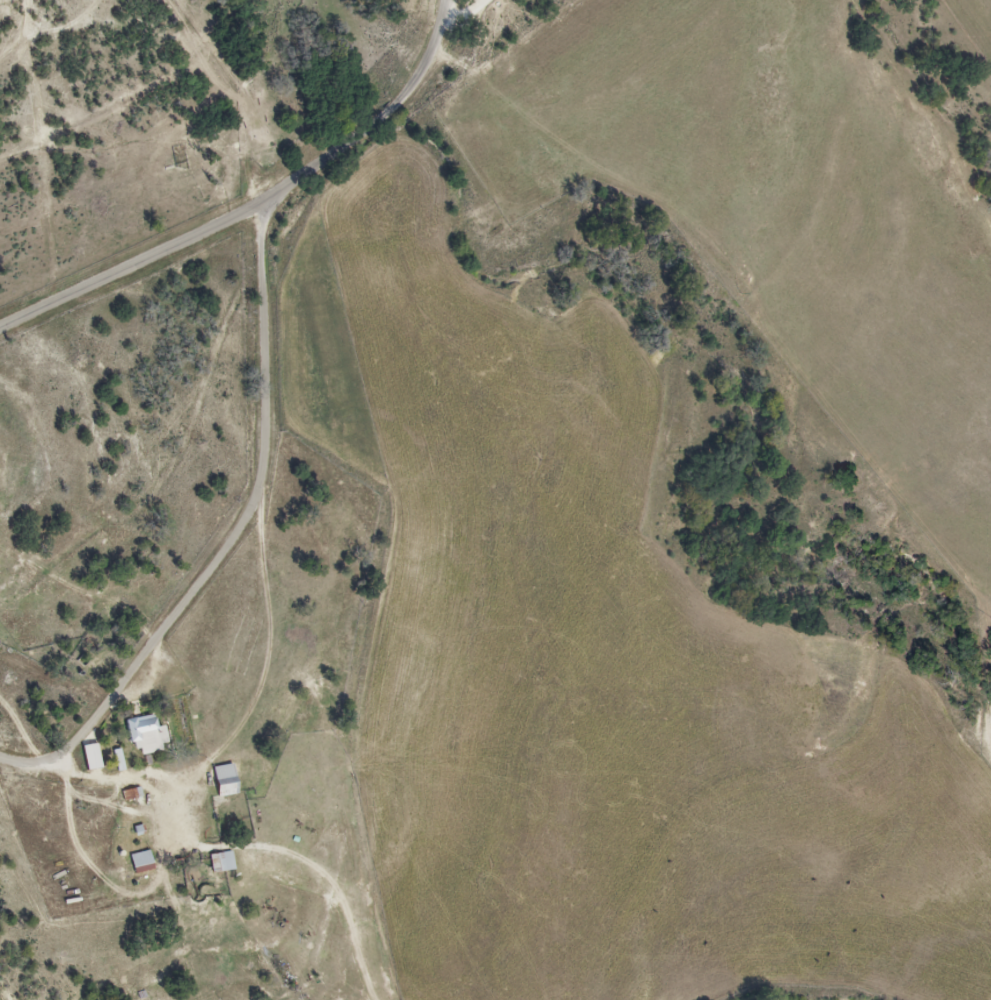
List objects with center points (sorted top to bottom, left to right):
road: (467, 22)
road: (136, 260)
road: (265, 388)
building: (146, 736)
road: (16, 762)
road: (122, 780)
building: (225, 781)
building: (142, 862)
building: (223, 862)

